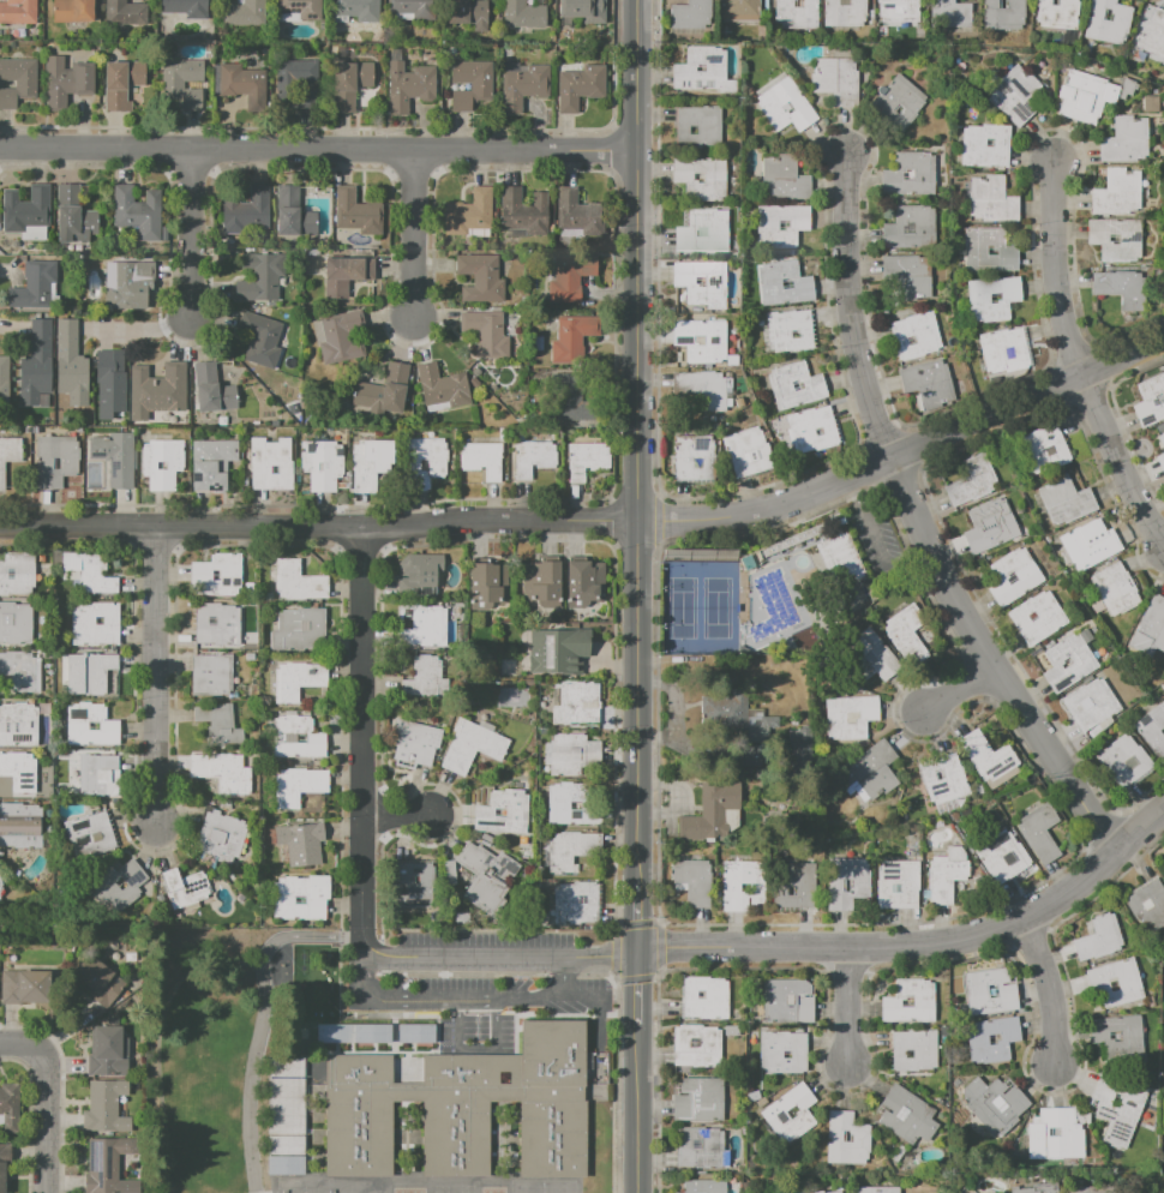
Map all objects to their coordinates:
building: (186, 7)
building: (301, 8)
building: (410, 8)
building: (358, 10)
building: (581, 10)
building: (896, 10)
building: (74, 11)
building: (463, 11)
building: (737, 11)
building: (19, 12)
building: (689, 12)
building: (842, 12)
building: (245, 13)
building: (796, 13)
building: (950, 13)
building: (1001, 13)
building: (127, 14)
building: (521, 14)
building: (1055, 14)
building: (1105, 22)
building: (1152, 35)
building: (706, 71)
building: (298, 80)
building: (838, 80)
building: (18, 82)
building: (184, 82)
building: (350, 83)
building: (70, 84)
building: (122, 84)
building: (473, 84)
building: (245, 85)
building: (524, 85)
building: (409, 86)
building: (582, 86)
building: (1018, 95)
building: (1088, 96)
building: (904, 101)
building: (1152, 103)
building: (787, 106)
building: (700, 126)
building: (1128, 140)
building: (988, 145)
road: (318, 148)
building: (912, 175)
building: (702, 178)
building: (786, 179)
building: (1121, 192)
building: (994, 200)
building: (28, 209)
building: (137, 210)
building: (247, 211)
building: (358, 212)
building: (527, 212)
building: (470, 214)
building: (580, 214)
building: (295, 215)
building: (76, 216)
building: (784, 226)
road: (187, 228)
building: (913, 229)
road: (413, 234)
building: (707, 234)
building: (1120, 239)
building: (991, 251)
road: (1055, 268)
building: (347, 275)
building: (911, 275)
building: (262, 277)
building: (482, 278)
building: (572, 278)
building: (704, 282)
building: (127, 283)
building: (786, 284)
building: (35, 286)
building: (1123, 288)
building: (995, 299)
road: (850, 311)
road: (136, 328)
building: (791, 331)
building: (488, 334)
building: (917, 336)
building: (262, 338)
building: (342, 338)
building: (575, 338)
building: (702, 340)
building: (536, 343)
building: (1006, 350)
building: (34, 362)
building: (68, 364)
building: (104, 377)
building: (2, 379)
building: (930, 384)
building: (444, 388)
building: (798, 388)
building: (214, 390)
building: (158, 391)
building: (704, 391)
building: (389, 392)
building: (574, 398)
building: (1151, 403)
building: (12, 418)
building: (815, 430)
building: (1163, 437)
road: (637, 442)
building: (1045, 450)
building: (750, 452)
building: (8, 457)
building: (534, 457)
building: (116, 458)
building: (696, 458)
building: (484, 460)
building: (588, 460)
building: (1162, 460)
building: (55, 461)
road: (1121, 461)
building: (214, 463)
building: (372, 463)
building: (425, 463)
building: (163, 464)
building: (323, 464)
building: (271, 466)
building: (974, 482)
road: (852, 496)
building: (1068, 500)
road: (599, 521)
building: (992, 527)
building: (1091, 547)
building: (776, 551)
road: (878, 551)
road: (919, 553)
building: (90, 572)
building: (18, 575)
building: (420, 575)
building: (217, 576)
building: (1015, 577)
building: (299, 582)
building: (542, 582)
building: (490, 583)
building: (587, 583)
building: (1117, 589)
park: (683, 609)
park: (716, 609)
building: (1040, 619)
building: (16, 624)
building: (1153, 624)
building: (95, 625)
building: (218, 625)
building: (426, 625)
building: (302, 630)
building: (907, 631)
building: (559, 651)
building: (871, 657)
road: (988, 663)
building: (1072, 663)
building: (20, 675)
building: (92, 675)
building: (212, 675)
road: (154, 676)
building: (427, 679)
building: (299, 681)
road: (959, 689)
building: (580, 705)
building: (1093, 706)
building: (852, 715)
building: (220, 724)
building: (18, 726)
building: (91, 727)
road: (361, 729)
building: (1152, 730)
building: (766, 731)
building: (299, 738)
building: (416, 742)
building: (473, 748)
building: (802, 750)
building: (571, 754)
building: (752, 756)
building: (990, 756)
building: (1124, 762)
building: (871, 771)
building: (19, 772)
building: (223, 772)
building: (92, 773)
building: (944, 777)
building: (301, 786)
building: (570, 804)
building: (712, 808)
building: (504, 811)
road: (395, 815)
building: (22, 826)
building: (1042, 833)
building: (91, 834)
building: (222, 838)
building: (302, 843)
building: (569, 850)
building: (1004, 856)
building: (948, 875)
building: (488, 877)
building: (695, 881)
building: (899, 883)
building: (415, 885)
building: (744, 885)
building: (848, 885)
building: (116, 886)
building: (797, 886)
building: (1, 888)
building: (186, 888)
building: (301, 897)
building: (577, 904)
building: (1148, 905)
road: (637, 918)
building: (1099, 940)
road: (276, 941)
road: (366, 942)
road: (920, 945)
traffic signals: (637, 953)
road: (505, 958)
building: (98, 981)
building: (1118, 982)
parking lot: (490, 983)
building: (26, 985)
road: (637, 988)
road: (1050, 989)
building: (994, 991)
building: (707, 997)
road: (462, 999)
building: (788, 1001)
building: (912, 1002)
road: (851, 1006)
building: (352, 1033)
building: (415, 1033)
road: (158, 1035)
building: (1120, 1035)
building: (992, 1039)
road: (30, 1047)
building: (698, 1047)
road: (476, 1049)
building: (916, 1050)
building: (109, 1053)
building: (784, 1053)
park: (206, 1056)
building: (701, 1101)
building: (997, 1104)
building: (284, 1105)
building: (11, 1108)
building: (106, 1108)
road: (637, 1108)
road: (248, 1109)
building: (463, 1109)
building: (1120, 1109)
building: (792, 1113)
building: (908, 1116)
road: (50, 1131)
building: (1056, 1134)
building: (848, 1139)
building: (702, 1149)
building: (107, 1164)
building: (283, 1164)
building: (5, 1165)
park: (304, 1186)
park: (542, 1186)
building: (706, 1186)
building: (877, 1189)
building: (1037, 1189)
building: (1092, 1189)
building: (820, 1192)
building: (838, 1192)

